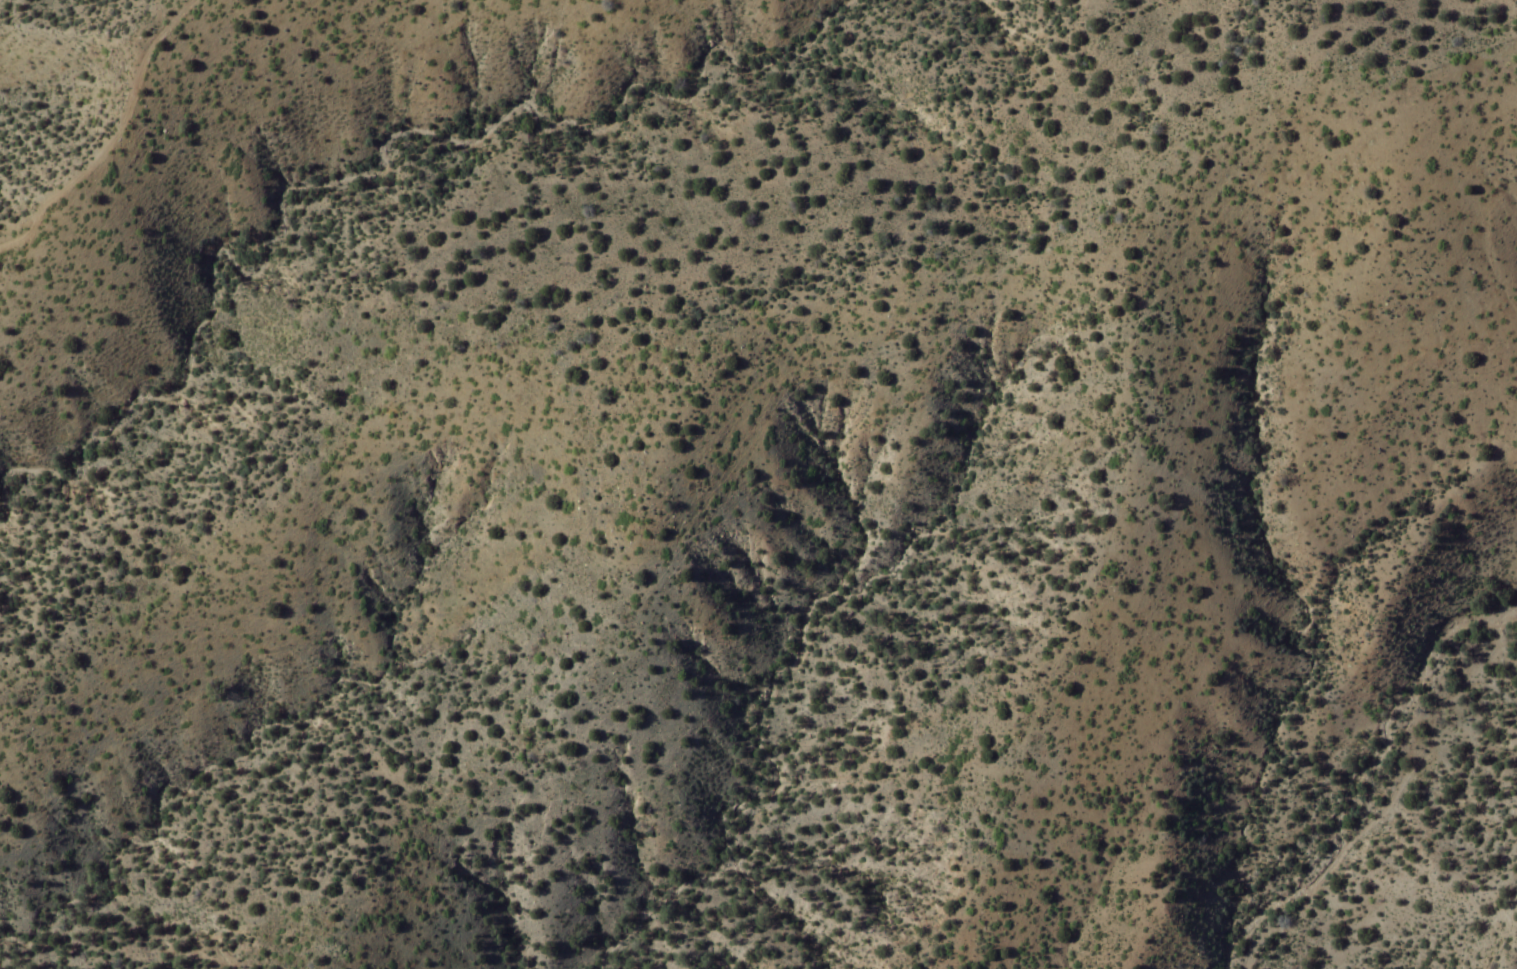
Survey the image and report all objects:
road: (120, 99)

